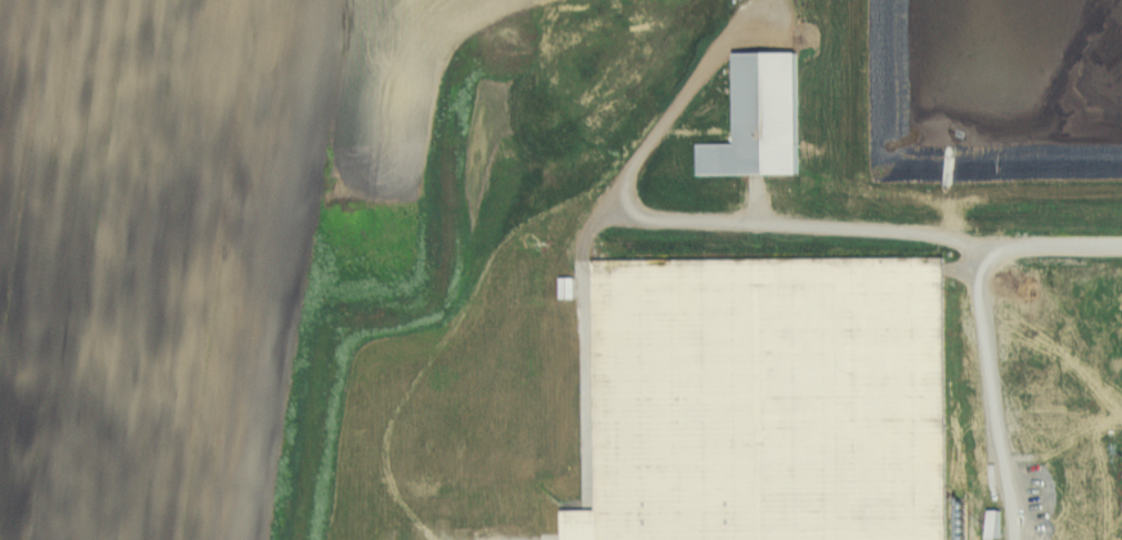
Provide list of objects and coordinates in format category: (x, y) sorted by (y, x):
road: (666, 220)
road: (984, 332)

